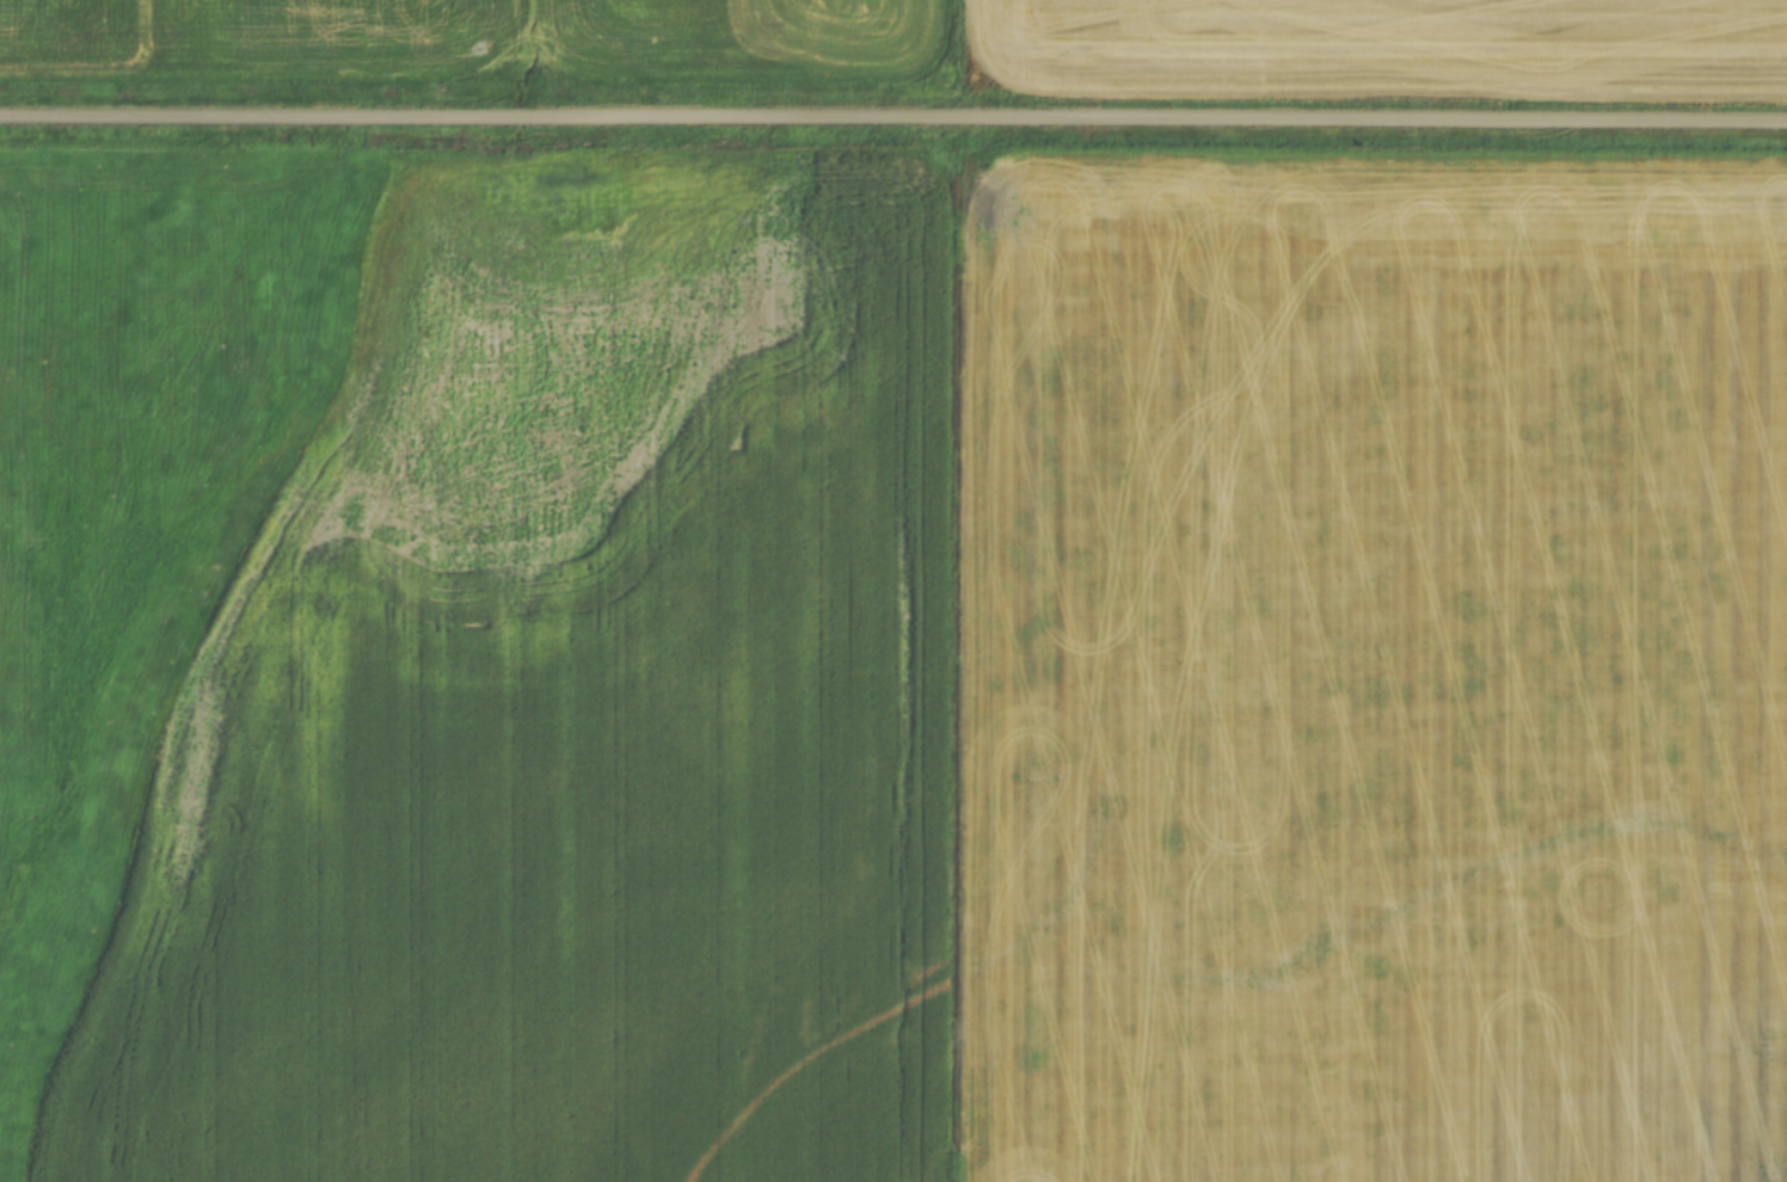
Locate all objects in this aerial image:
road: (892, 119)

